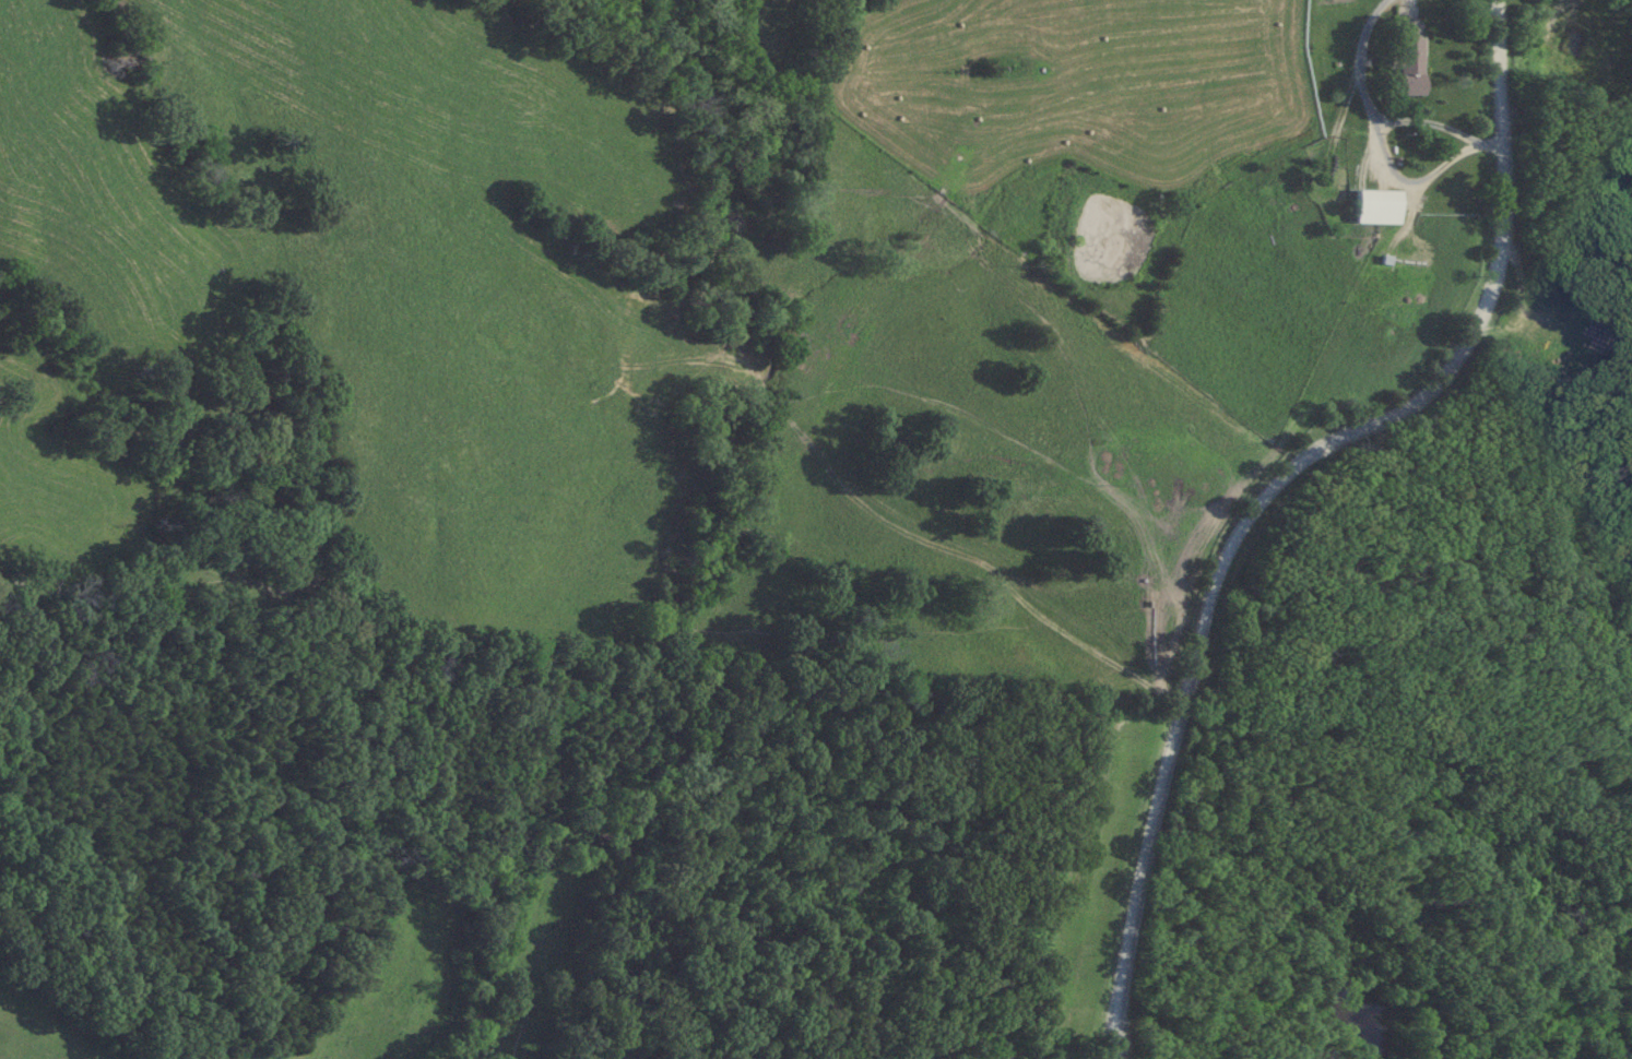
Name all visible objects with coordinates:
building: (1410, 58)
road: (1423, 120)
road: (1376, 142)
building: (1379, 205)
road: (1273, 487)

